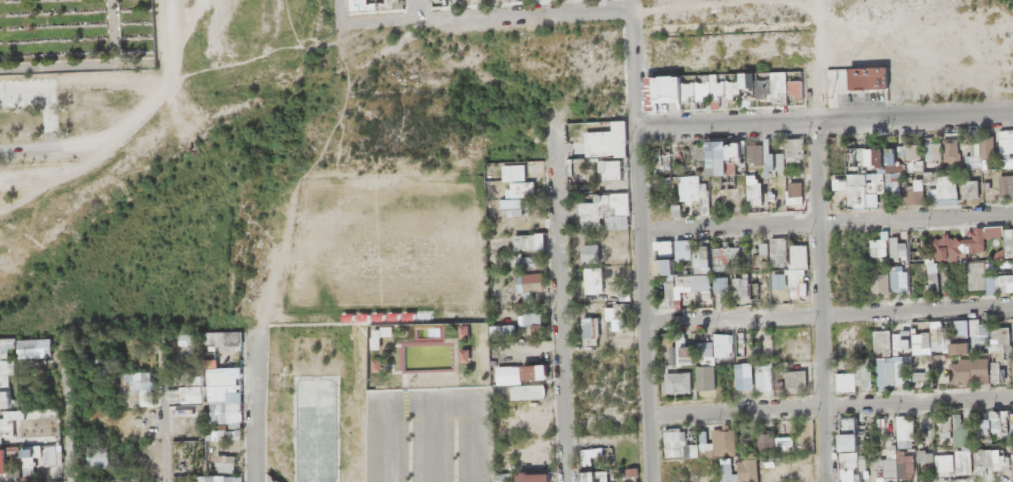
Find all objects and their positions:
park: (73, 37)

